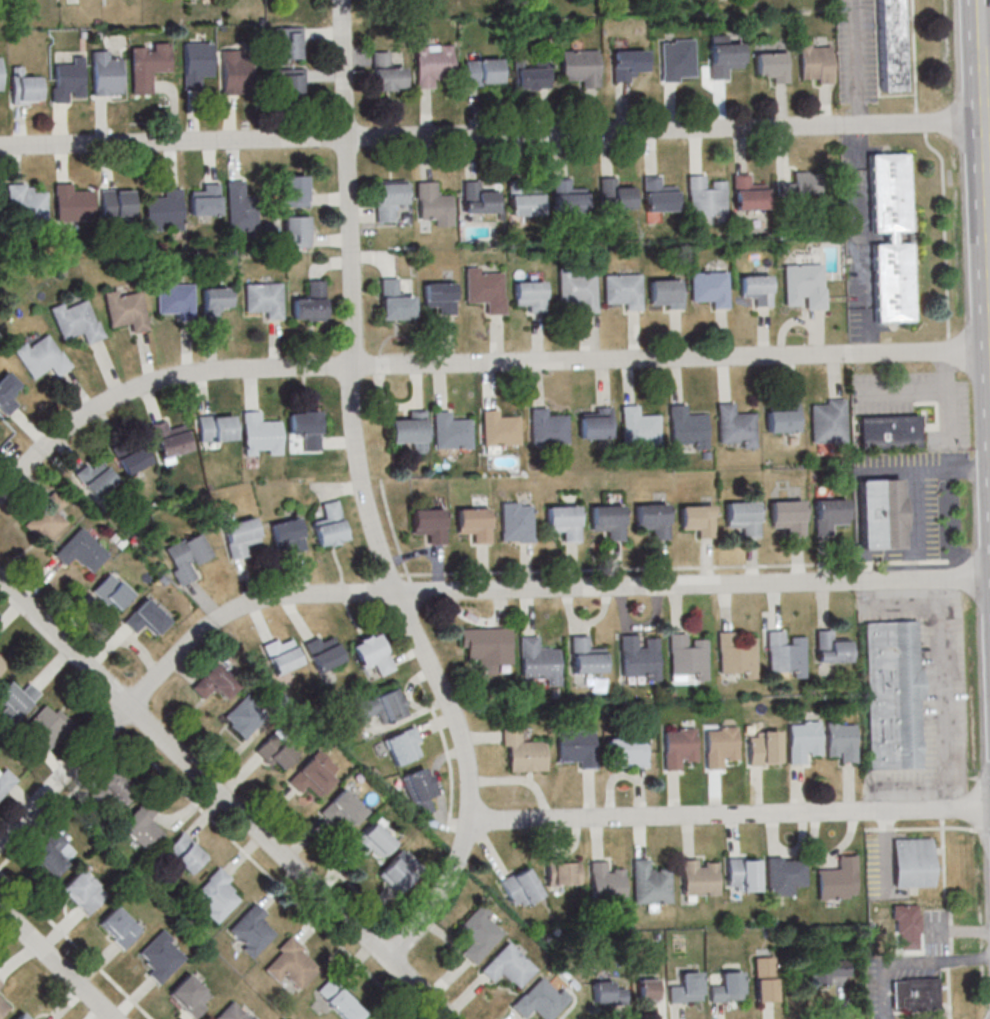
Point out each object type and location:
road: (981, 0)
road: (983, 24)
road: (987, 37)
building: (288, 43)
building: (889, 45)
building: (723, 56)
building: (678, 60)
building: (196, 62)
road: (857, 62)
building: (433, 63)
building: (815, 63)
building: (147, 64)
building: (627, 64)
building: (769, 64)
building: (581, 66)
building: (483, 71)
building: (236, 72)
building: (105, 73)
building: (387, 73)
building: (0, 74)
building: (532, 75)
building: (68, 80)
building: (290, 83)
road: (985, 84)
building: (26, 88)
road: (989, 120)
road: (666, 128)
road: (172, 141)
road: (989, 145)
road: (941, 165)
building: (800, 190)
building: (294, 191)
building: (613, 193)
building: (747, 193)
building: (656, 194)
building: (566, 196)
building: (706, 196)
building: (522, 197)
building: (478, 198)
building: (389, 199)
building: (205, 200)
building: (117, 203)
building: (72, 204)
building: (434, 204)
building: (26, 206)
building: (241, 207)
building: (163, 209)
building: (295, 231)
building: (890, 237)
road: (855, 239)
building: (803, 284)
building: (708, 287)
building: (487, 289)
building: (756, 289)
building: (578, 290)
building: (622, 290)
building: (665, 293)
building: (531, 295)
building: (440, 297)
building: (263, 298)
building: (175, 299)
building: (311, 301)
building: (396, 301)
building: (216, 302)
building: (125, 309)
building: (77, 321)
road: (949, 345)
building: (42, 357)
road: (949, 361)
road: (475, 363)
road: (903, 389)
building: (8, 393)
building: (782, 418)
road: (949, 420)
building: (827, 421)
building: (595, 423)
building: (734, 425)
building: (547, 427)
building: (687, 427)
building: (217, 428)
building: (306, 428)
building: (499, 428)
building: (639, 428)
building: (411, 431)
building: (450, 431)
building: (888, 431)
building: (261, 435)
building: (170, 439)
building: (0, 449)
building: (131, 455)
road: (980, 469)
road: (914, 471)
building: (96, 477)
road: (366, 501)
building: (880, 513)
building: (829, 515)
road: (917, 516)
building: (787, 517)
building: (47, 518)
building: (743, 518)
building: (652, 519)
building: (697, 519)
building: (562, 521)
building: (607, 521)
building: (515, 522)
building: (427, 523)
building: (472, 523)
building: (329, 525)
road: (393, 530)
building: (288, 534)
building: (241, 537)
building: (81, 550)
building: (186, 556)
road: (673, 567)
road: (918, 569)
road: (394, 574)
road: (691, 584)
road: (411, 585)
road: (863, 588)
building: (112, 592)
road: (903, 598)
building: (146, 618)
building: (486, 647)
building: (830, 647)
building: (323, 652)
building: (282, 654)
building: (372, 654)
building: (735, 654)
building: (785, 654)
building: (586, 656)
building: (686, 656)
building: (638, 657)
building: (3, 661)
building: (539, 661)
road: (171, 665)
building: (214, 682)
road: (410, 688)
road: (944, 692)
building: (894, 694)
building: (17, 697)
building: (381, 707)
road: (409, 715)
building: (244, 717)
building: (46, 728)
building: (803, 740)
building: (841, 740)
building: (403, 745)
building: (720, 746)
building: (678, 747)
building: (764, 747)
building: (577, 748)
road: (446, 750)
building: (524, 751)
building: (626, 751)
building: (275, 752)
building: (309, 777)
building: (5, 780)
road: (437, 786)
building: (111, 789)
building: (419, 790)
road: (225, 797)
building: (341, 809)
road: (205, 814)
road: (729, 816)
building: (141, 824)
road: (921, 827)
road: (983, 830)
building: (373, 841)
building: (185, 852)
building: (50, 854)
building: (913, 862)
building: (399, 870)
building: (563, 871)
building: (743, 874)
building: (785, 874)
building: (700, 877)
building: (837, 879)
building: (606, 883)
building: (650, 883)
building: (520, 887)
building: (82, 891)
building: (216, 895)
road: (950, 914)
building: (118, 927)
building: (906, 927)
building: (251, 930)
building: (477, 932)
road: (75, 944)
building: (160, 956)
road: (908, 961)
road: (57, 962)
building: (290, 963)
building: (507, 965)
building: (828, 969)
building: (766, 979)
building: (0, 984)
building: (727, 987)
building: (687, 988)
building: (648, 989)
building: (916, 993)
building: (608, 994)
building: (190, 996)
building: (338, 999)
building: (540, 1000)
building: (2, 1007)
building: (229, 1013)
building: (21, 1015)
building: (34, 1017)
building: (373, 1018)

